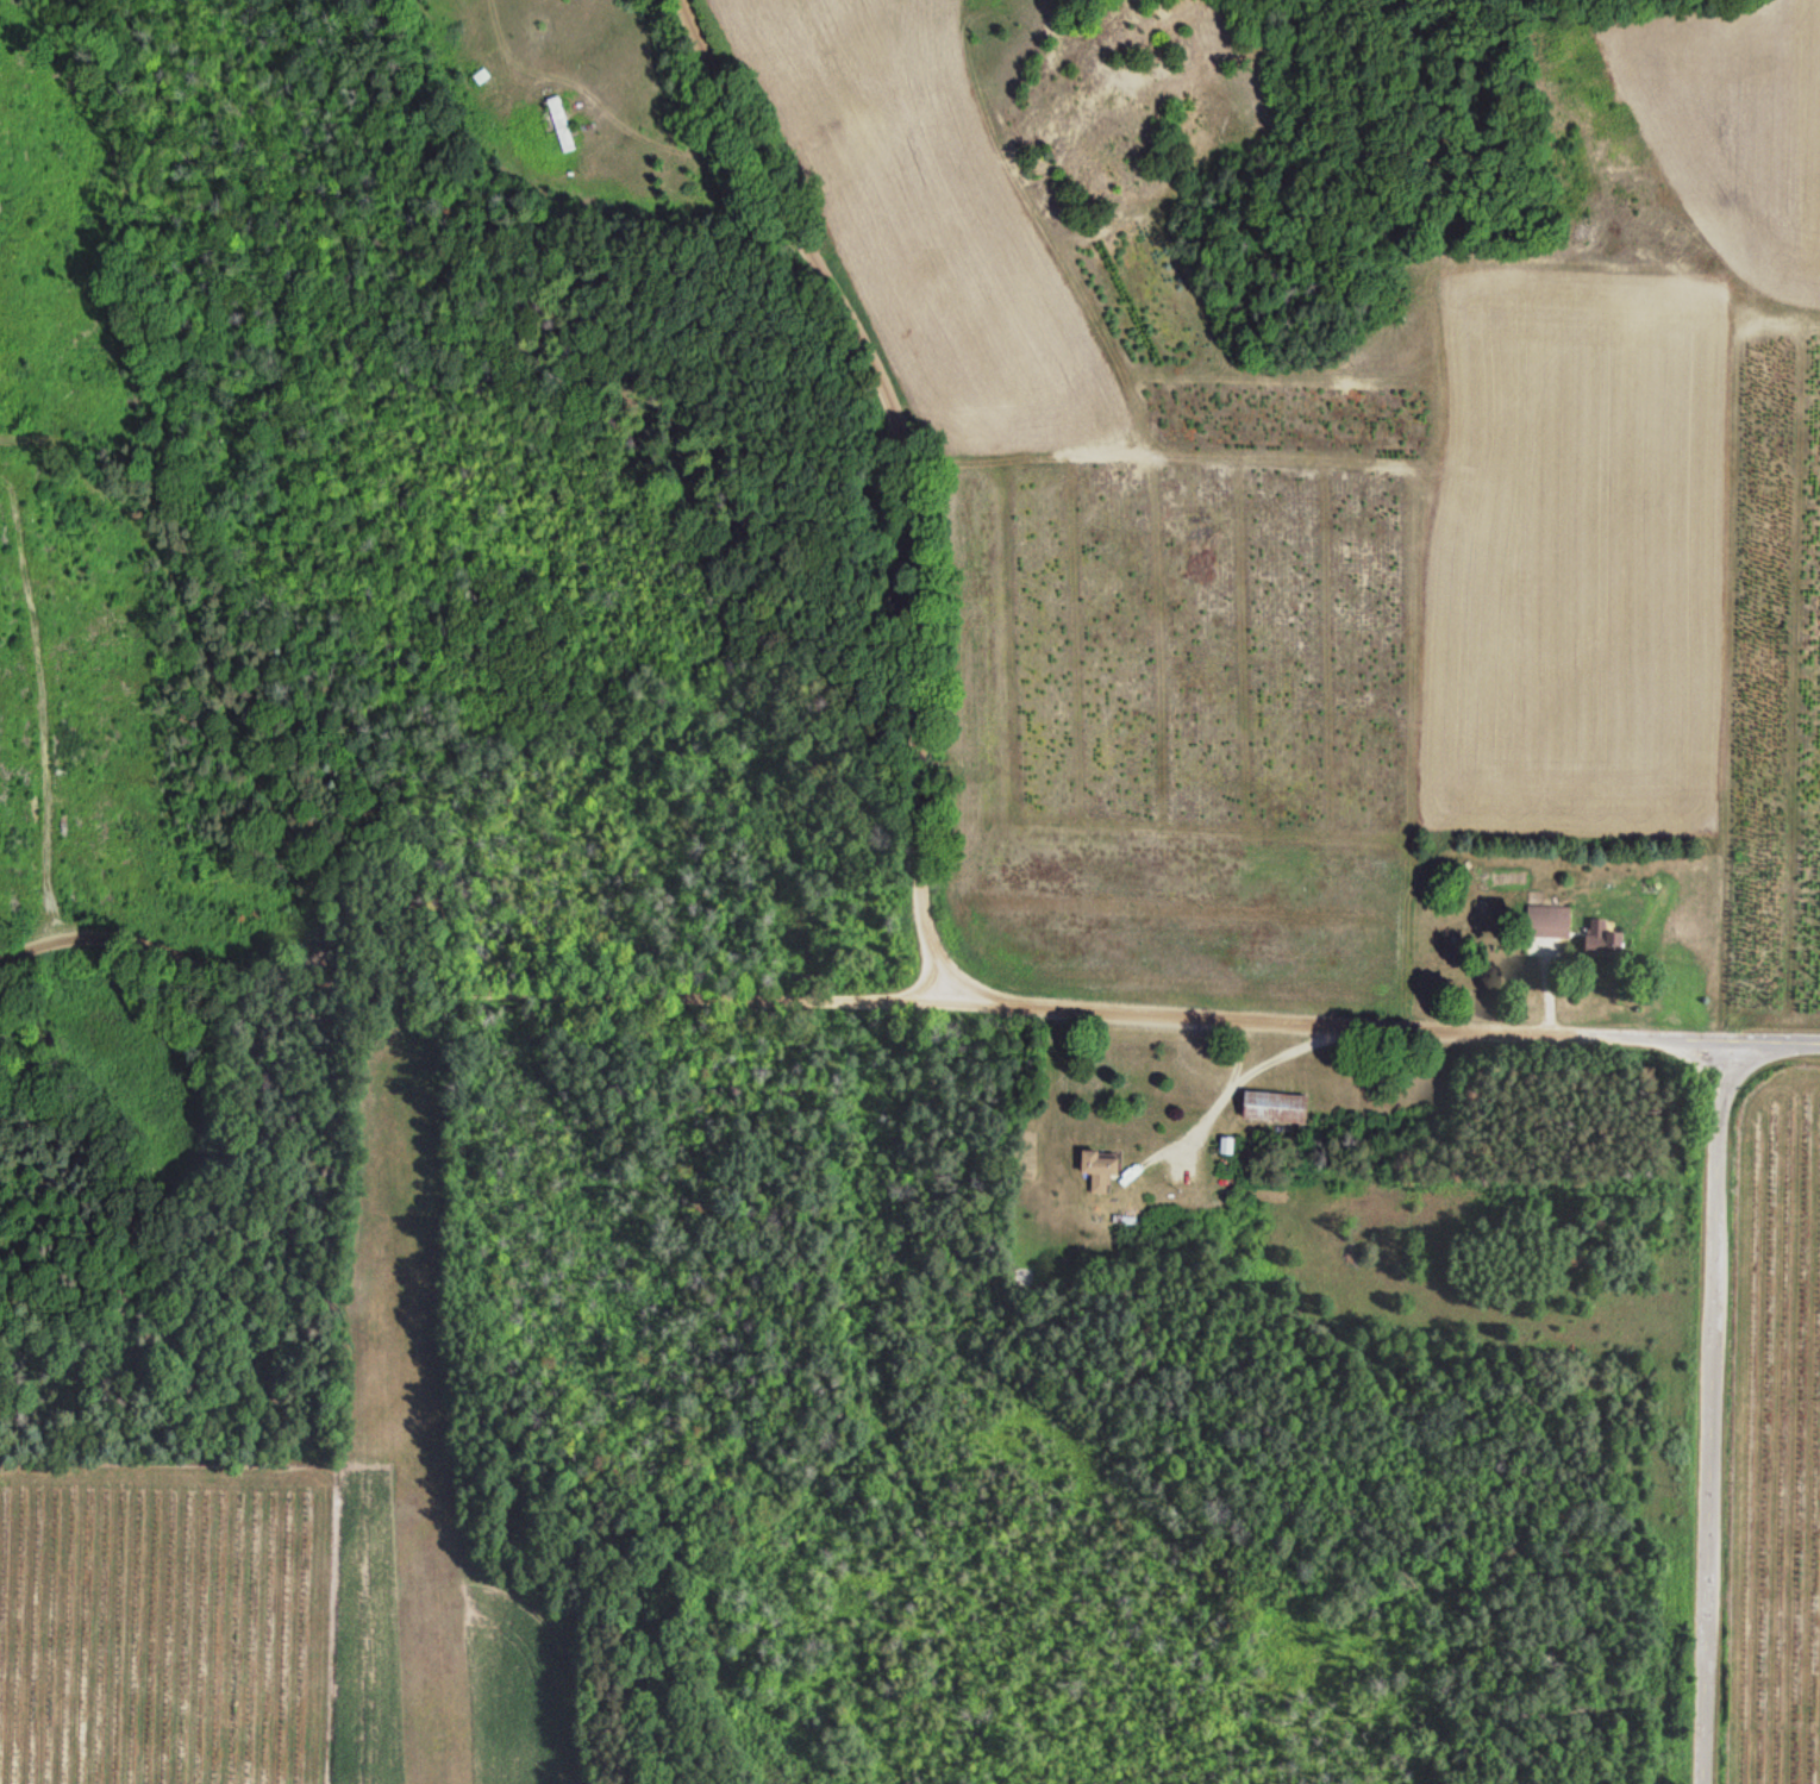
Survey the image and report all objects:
building: (559, 125)
road: (898, 476)
building: (1545, 922)
building: (1597, 939)
road: (856, 985)
road: (1770, 1044)
building: (1270, 1108)
building: (1095, 1171)
road: (1708, 1413)

